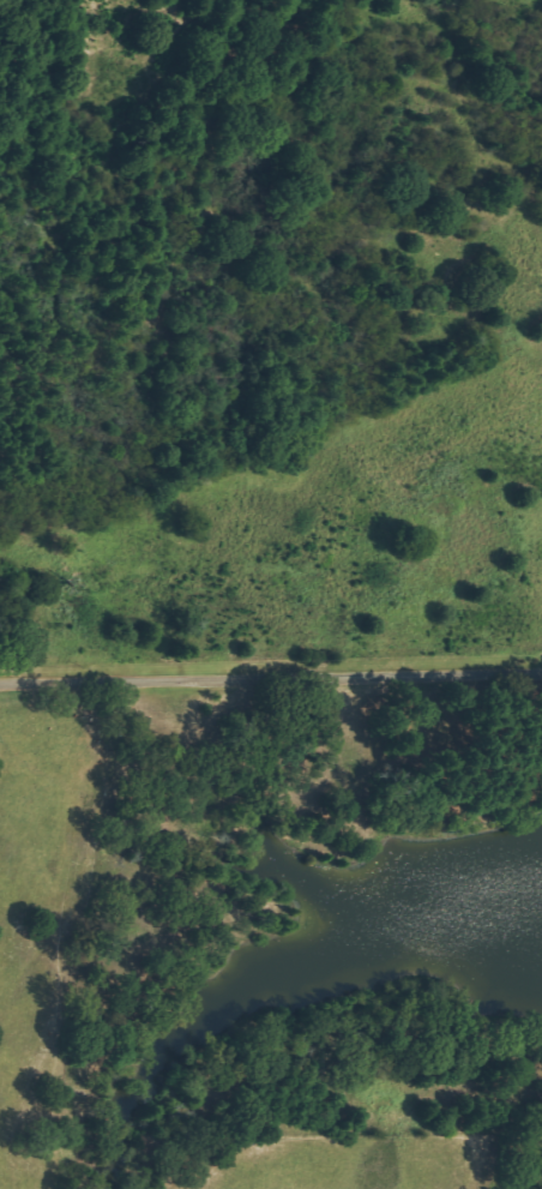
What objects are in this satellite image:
road: (270, 679)

